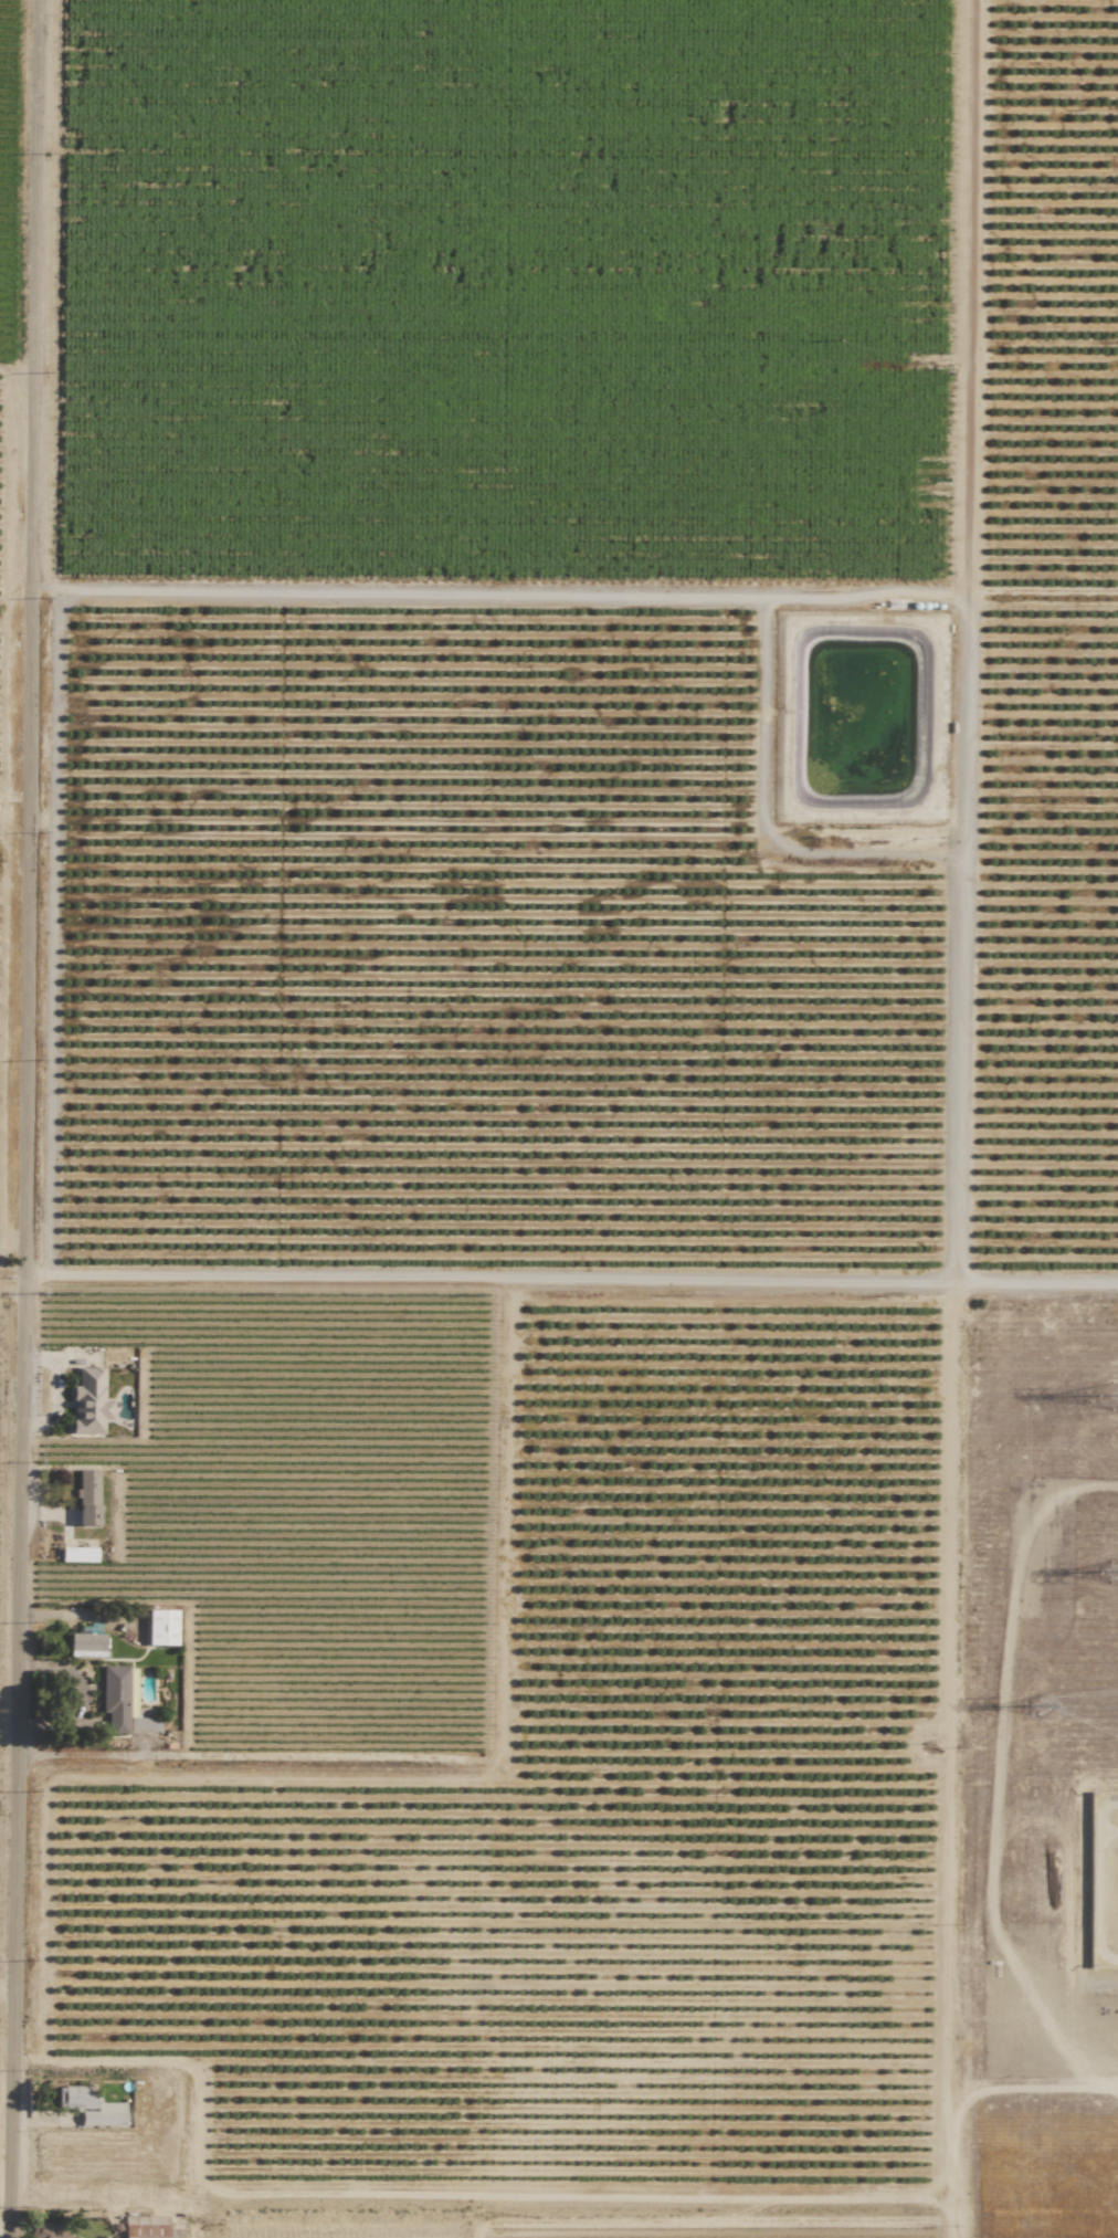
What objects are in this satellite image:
road: (960, 937)
road: (23, 1118)
road: (11, 1284)
power tower: (1108, 1397)
building: (89, 1401)
building: (87, 1498)
building: (78, 1554)
power tower: (1108, 1574)
building: (161, 1627)
building: (87, 1645)
building: (123, 1702)
power tower: (1033, 1708)
power substation: (1103, 1880)
building: (89, 2105)
building: (145, 2227)
building: (46, 2230)

